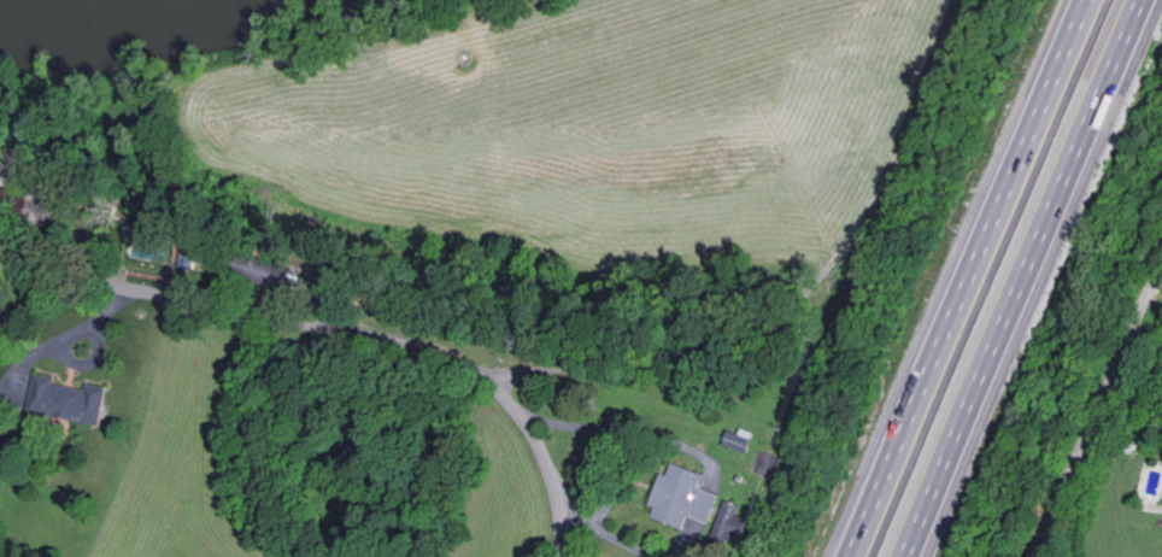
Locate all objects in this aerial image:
river: (37, 6)
building: (8, 172)
road: (958, 277)
road: (1034, 280)
road: (346, 330)
building: (70, 398)
road: (1094, 420)
building: (741, 440)
building: (686, 496)
building: (730, 517)

